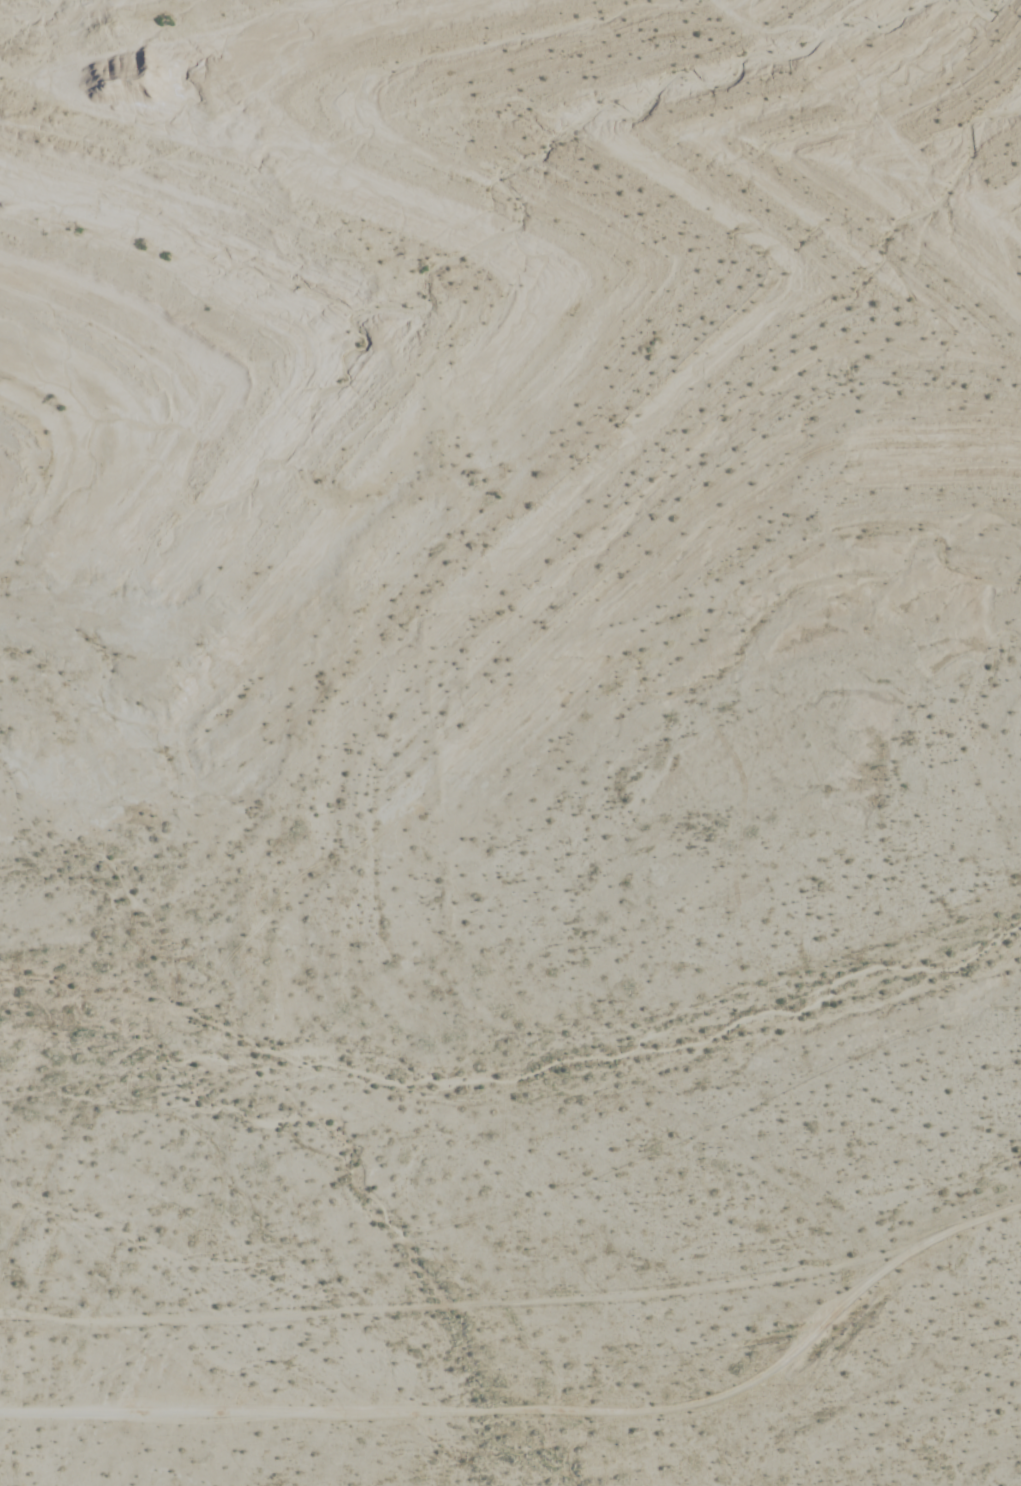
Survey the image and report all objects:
road: (540, 1407)

